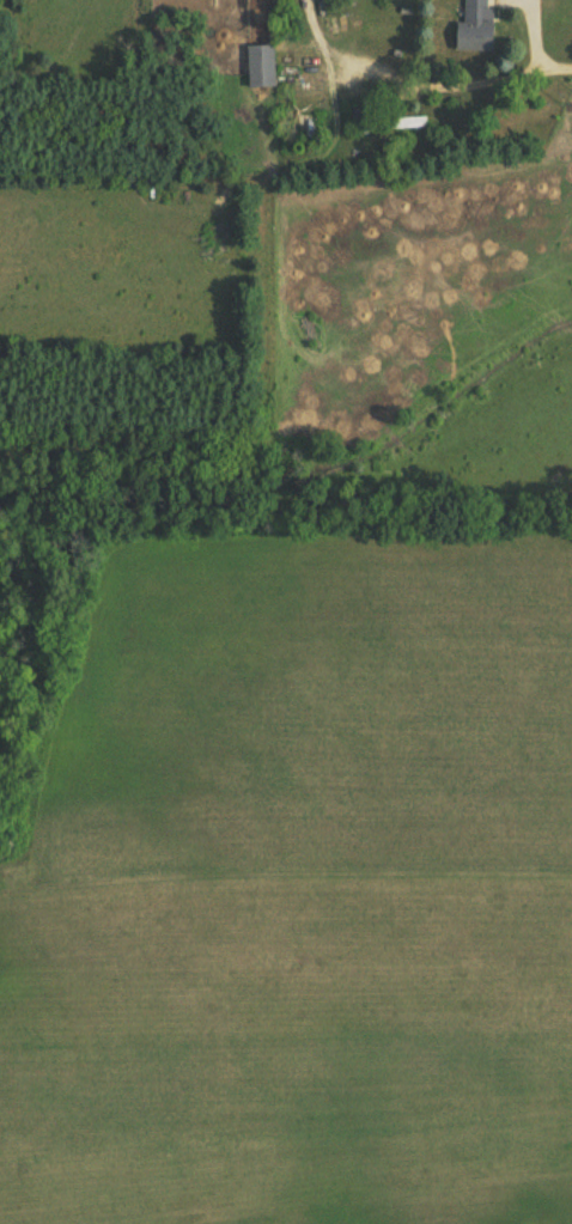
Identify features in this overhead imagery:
building: (480, 26)
road: (541, 35)
road: (339, 60)
building: (263, 66)
road: (487, 83)

